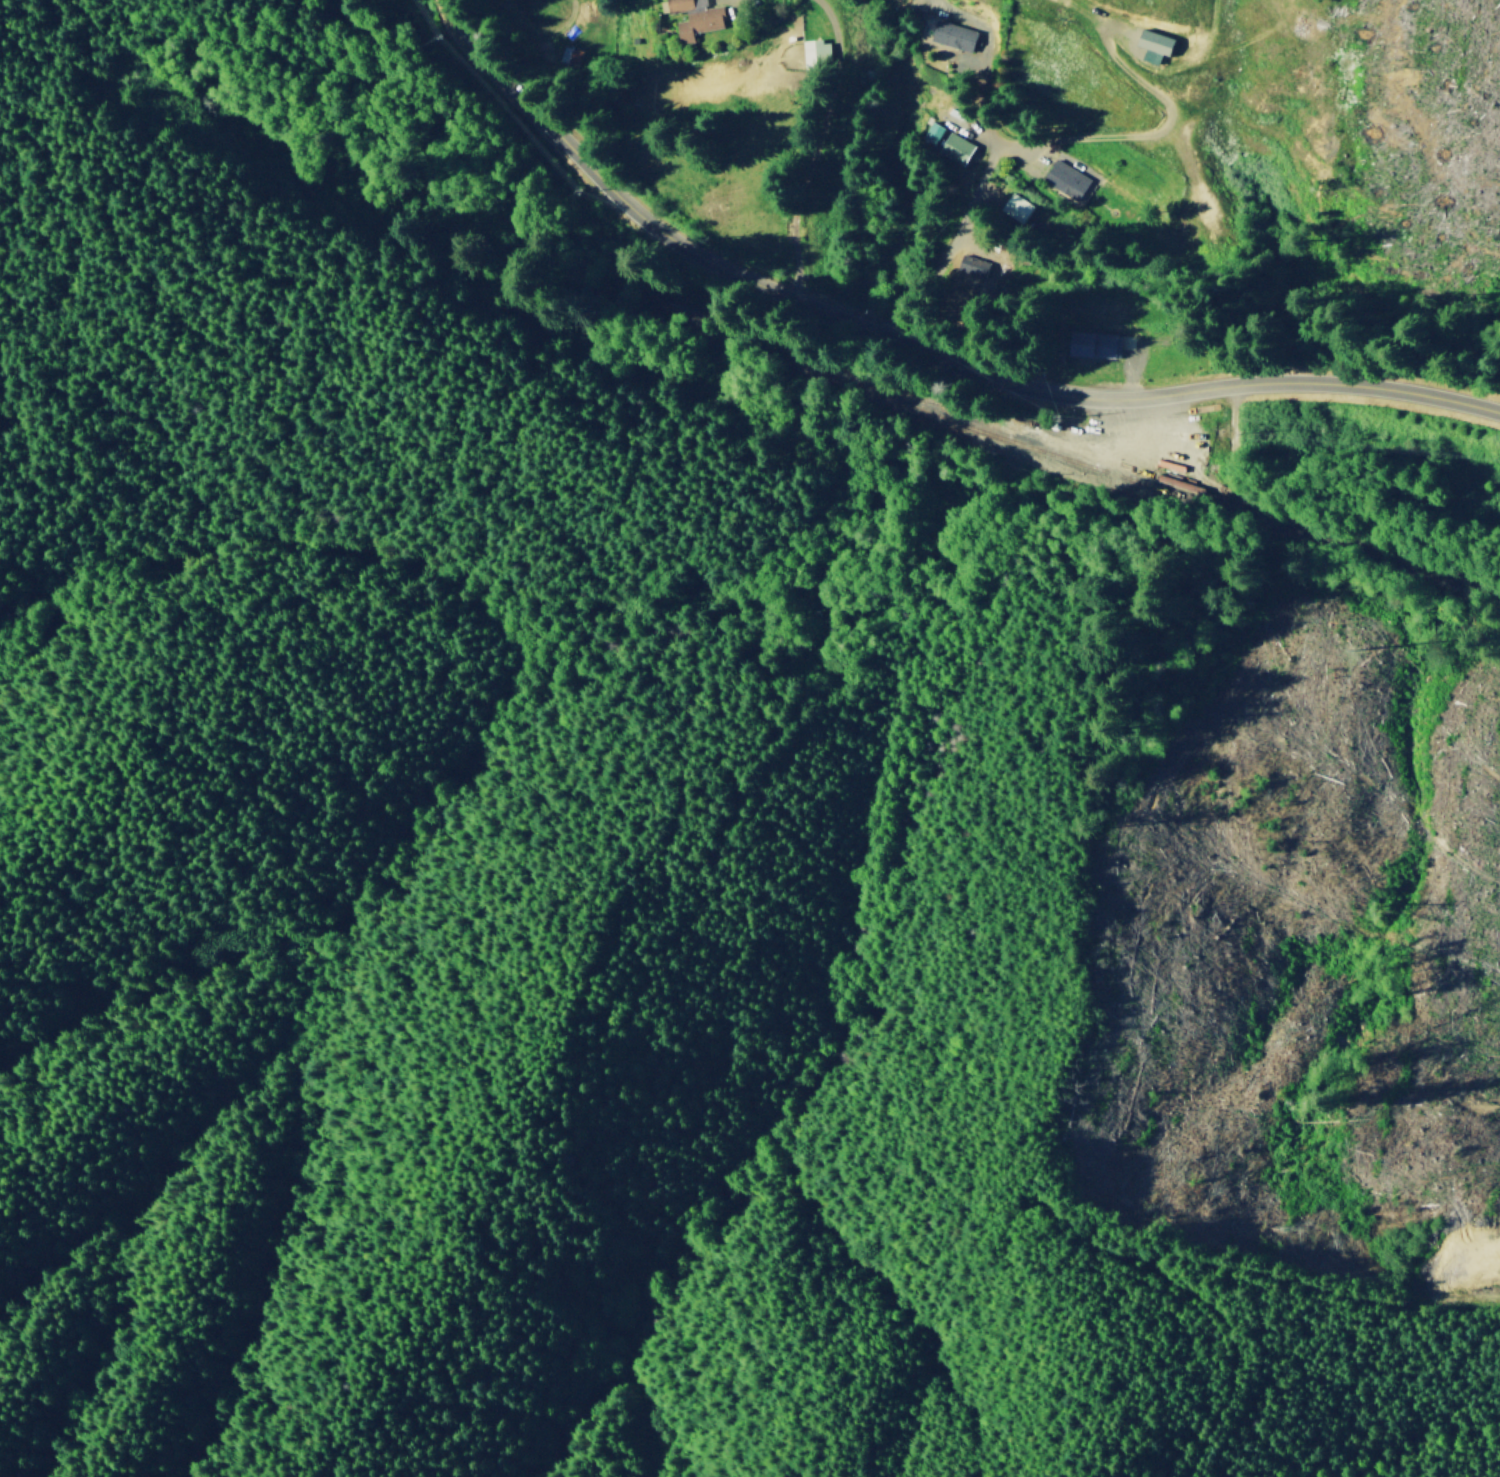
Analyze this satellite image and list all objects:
building: (699, 23)
road: (834, 29)
building: (952, 35)
building: (1154, 45)
road: (858, 61)
building: (948, 143)
building: (1068, 180)
railway: (690, 326)
building: (1094, 344)
road: (916, 348)
railway: (1033, 438)
road: (1344, 479)
railway: (1446, 569)

